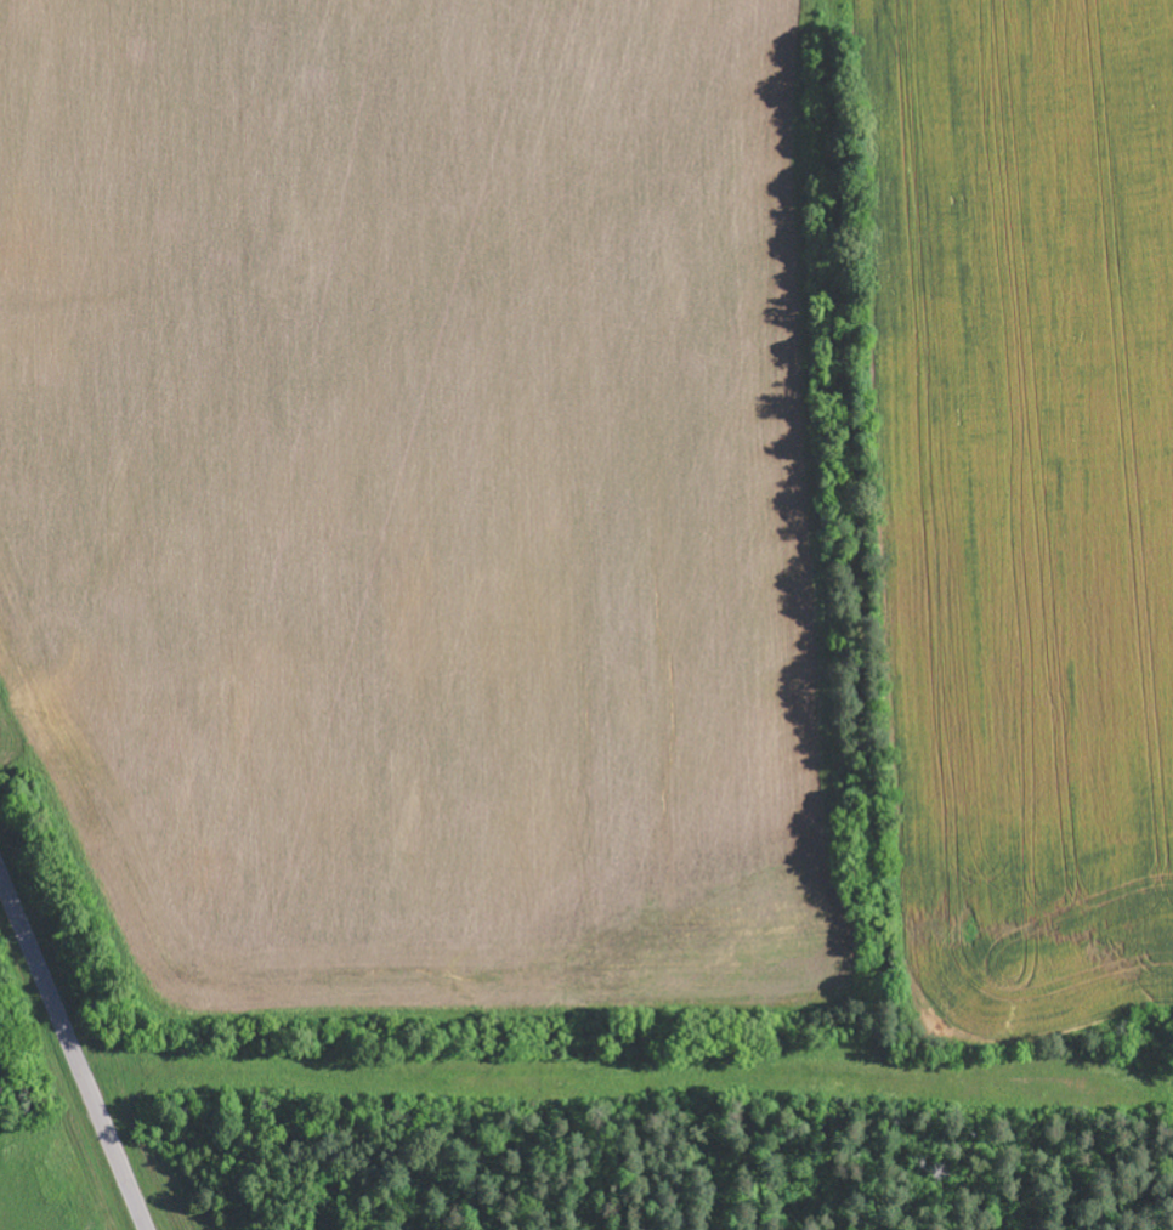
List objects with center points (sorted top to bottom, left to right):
road: (74, 1052)

